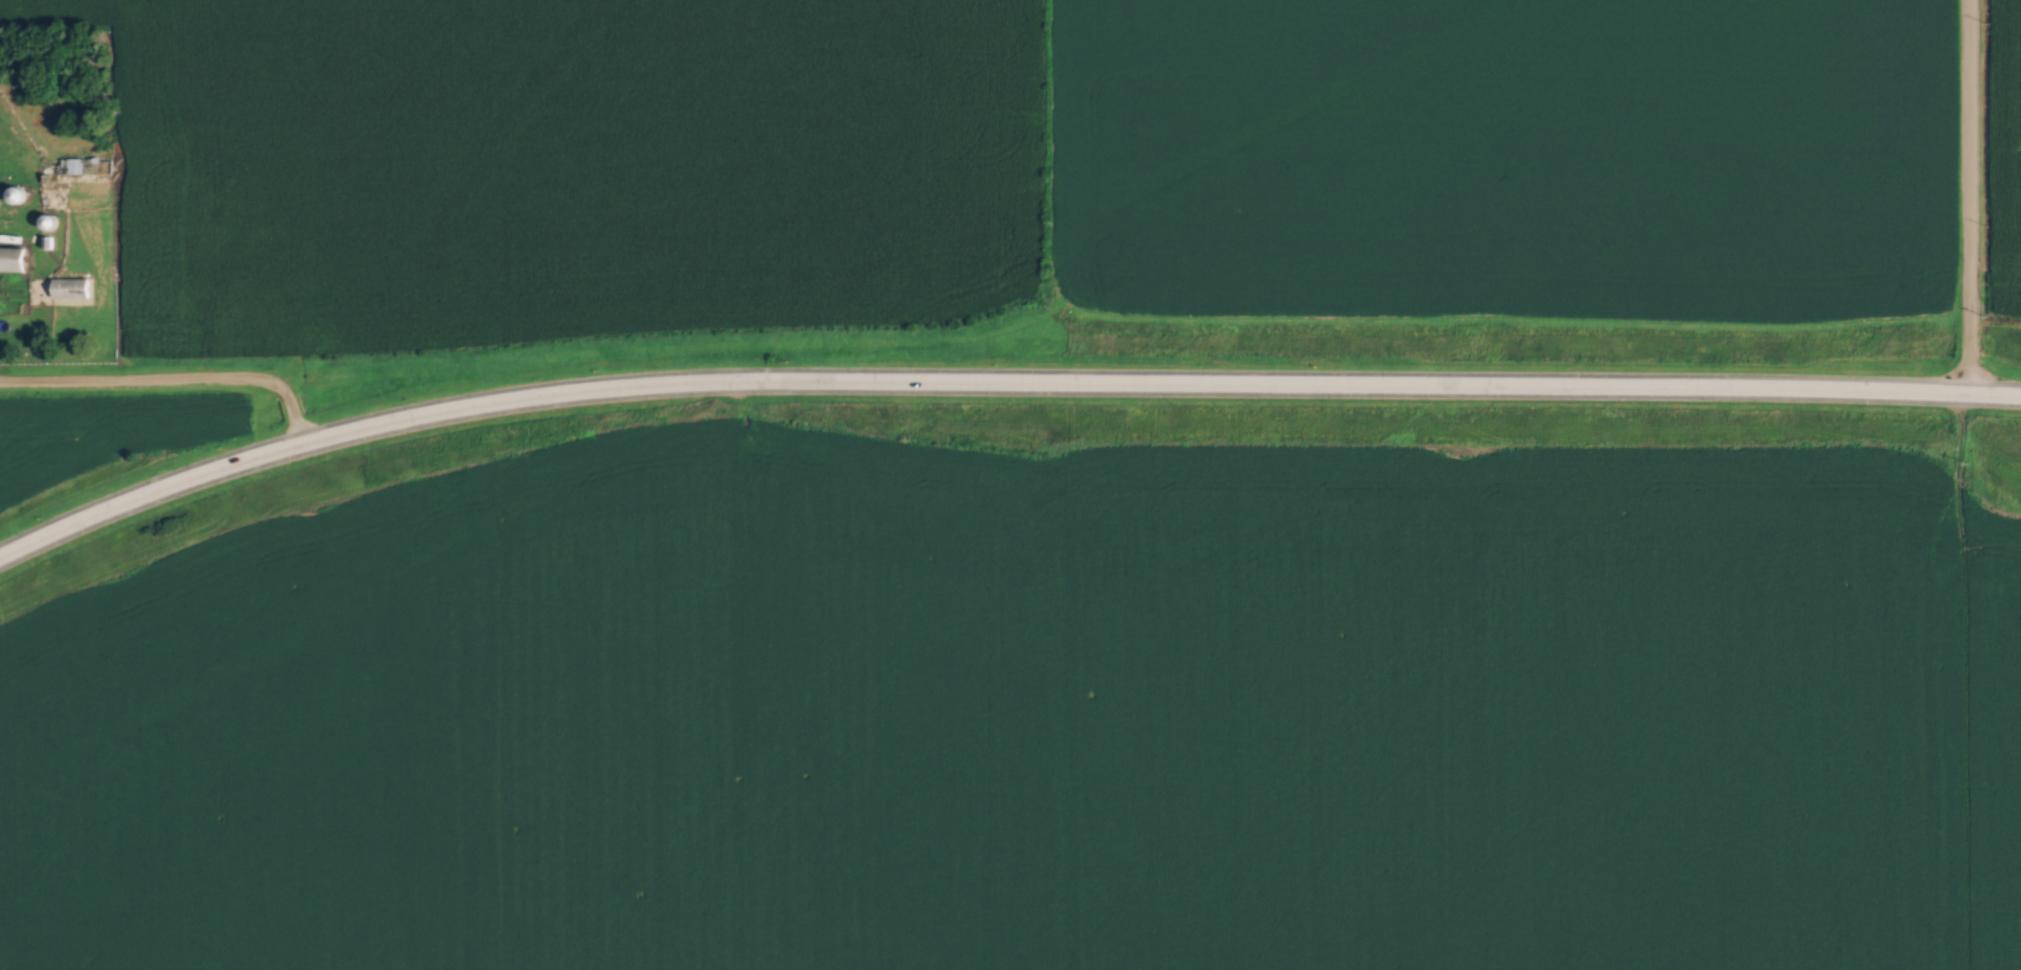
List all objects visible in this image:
building: (77, 162)
building: (13, 191)
road: (1965, 198)
building: (12, 261)
building: (69, 284)
road: (170, 382)
road: (997, 387)

